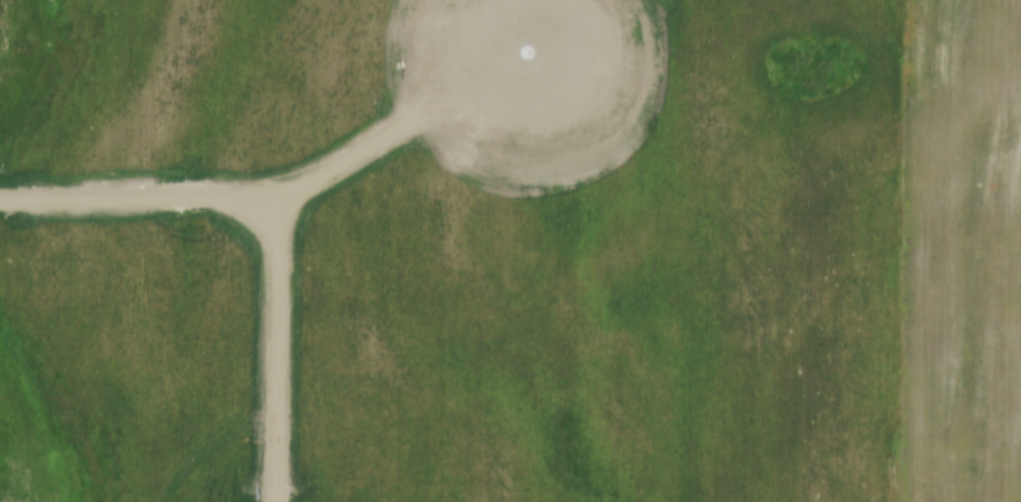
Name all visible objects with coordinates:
wind turbine: (524, 54)
road: (904, 250)

